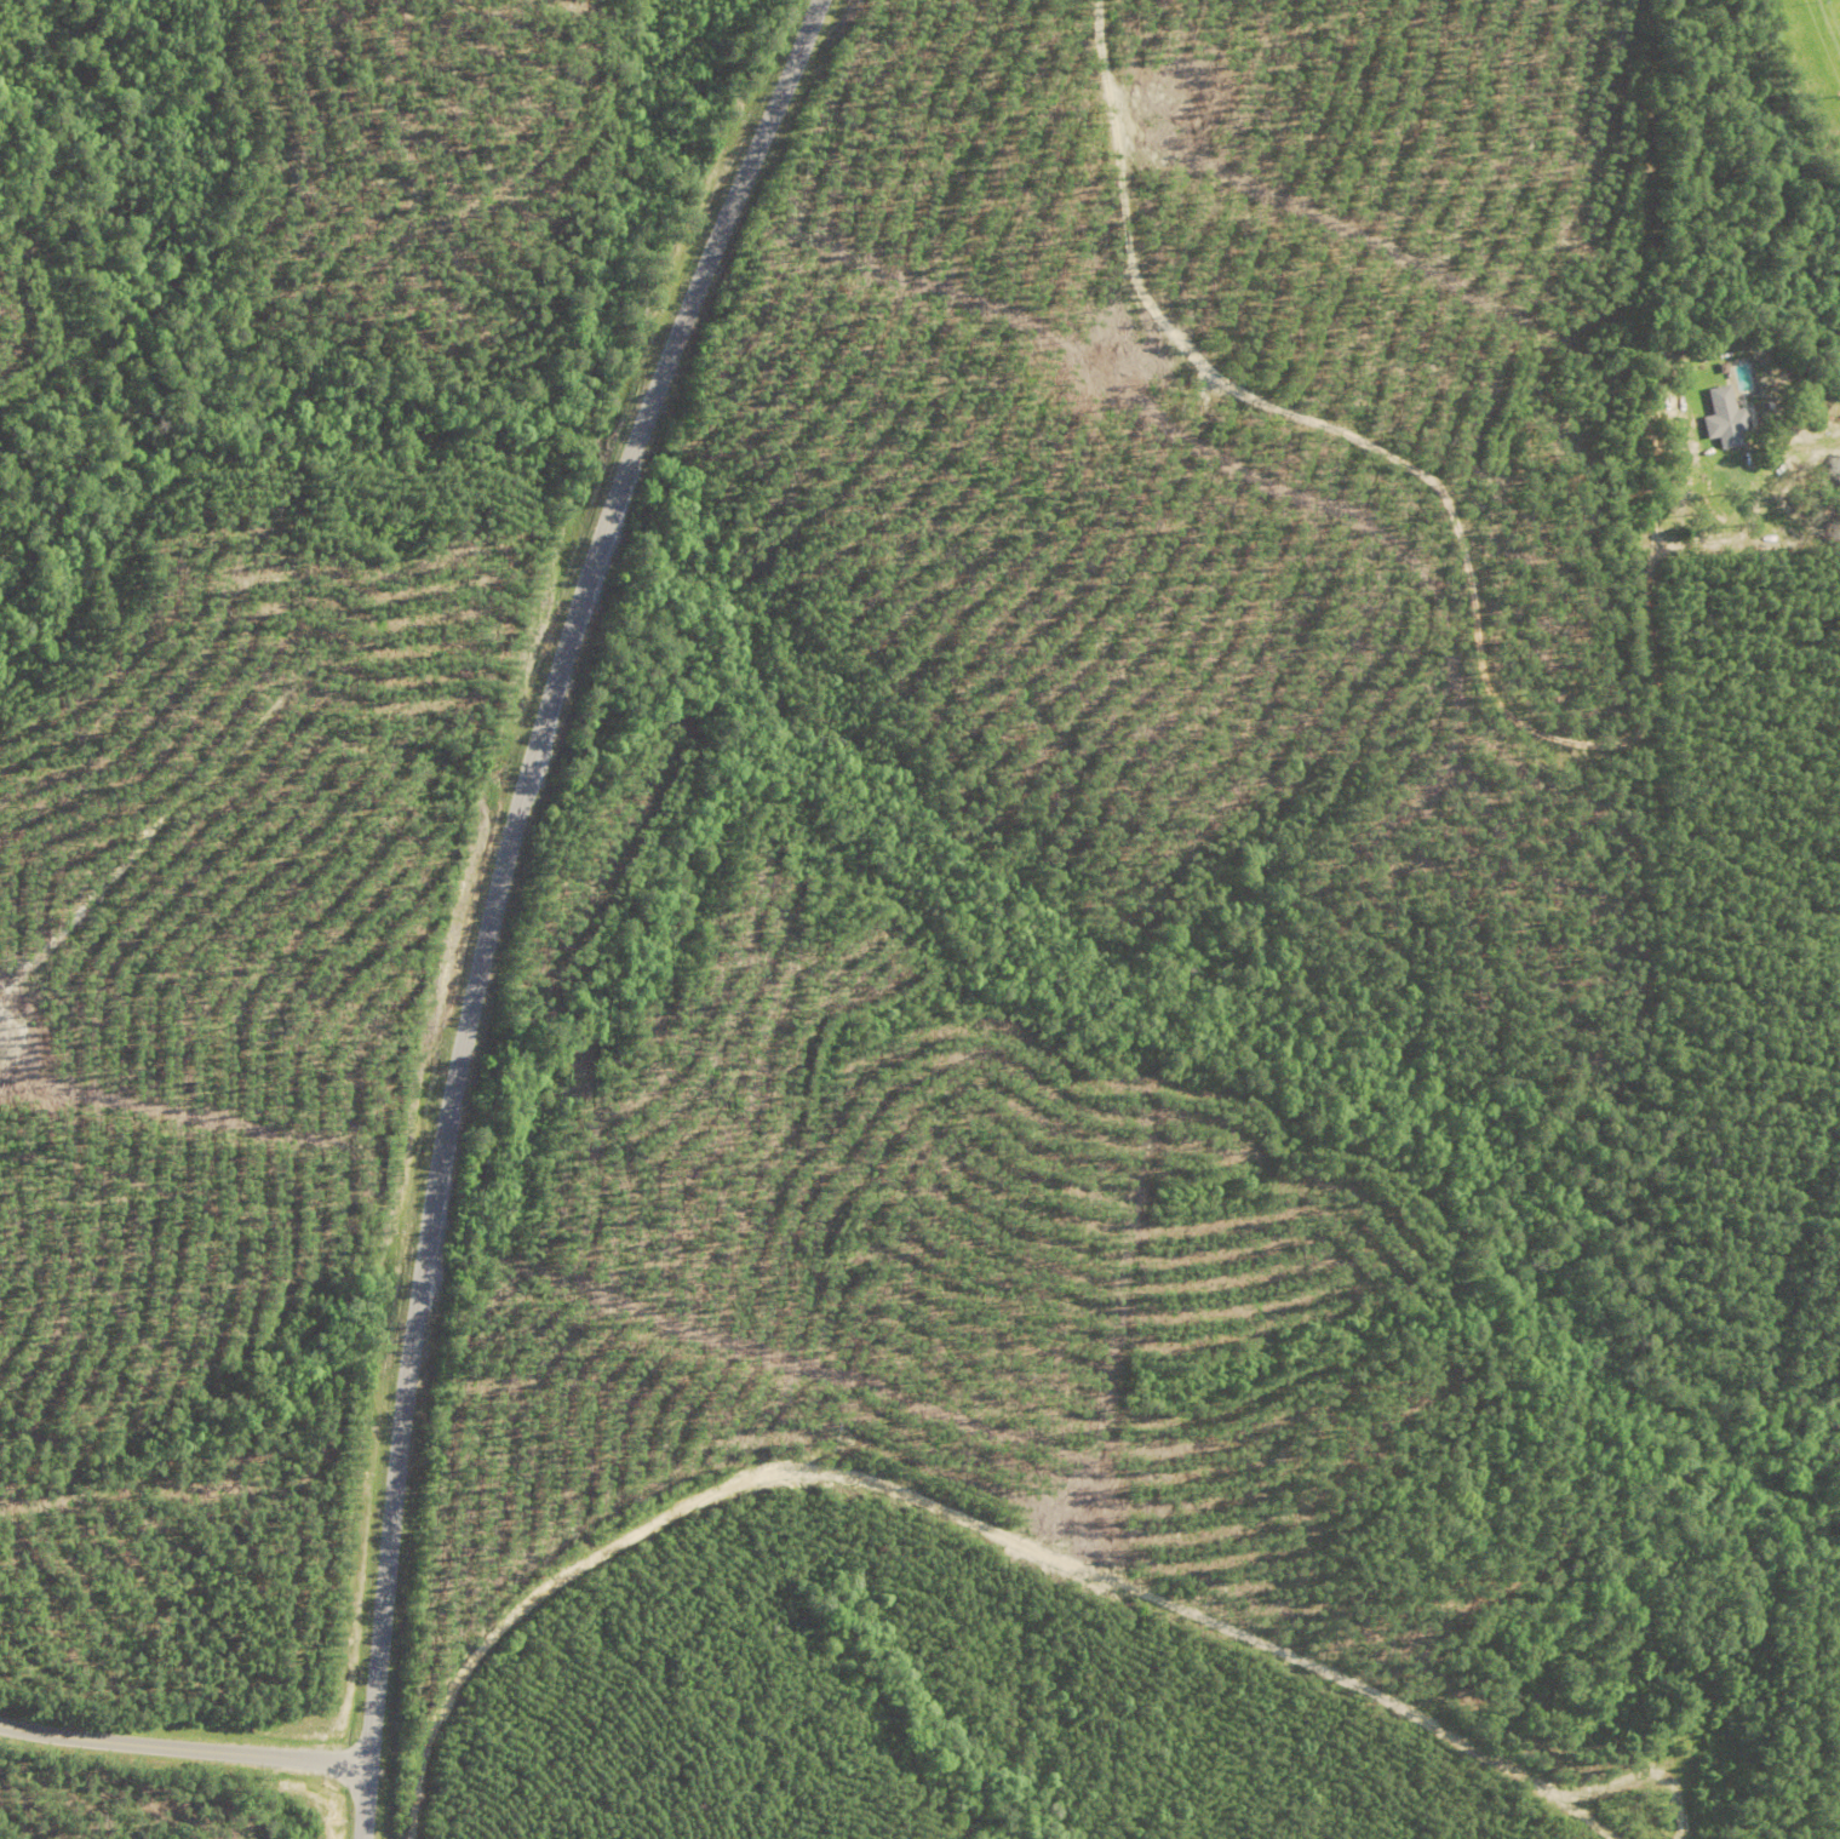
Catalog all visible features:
building: (1724, 419)
road: (1443, 515)
road: (495, 895)
road: (912, 1505)
road: (183, 1746)

